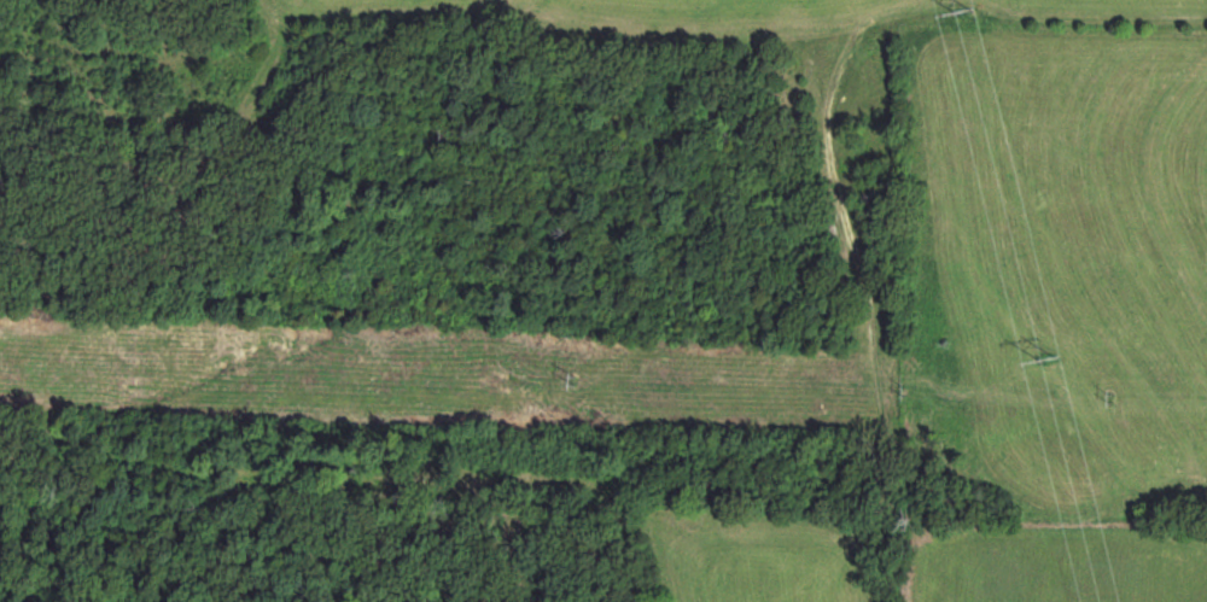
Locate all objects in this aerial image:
power tower: (966, 16)
power tower: (1046, 361)

